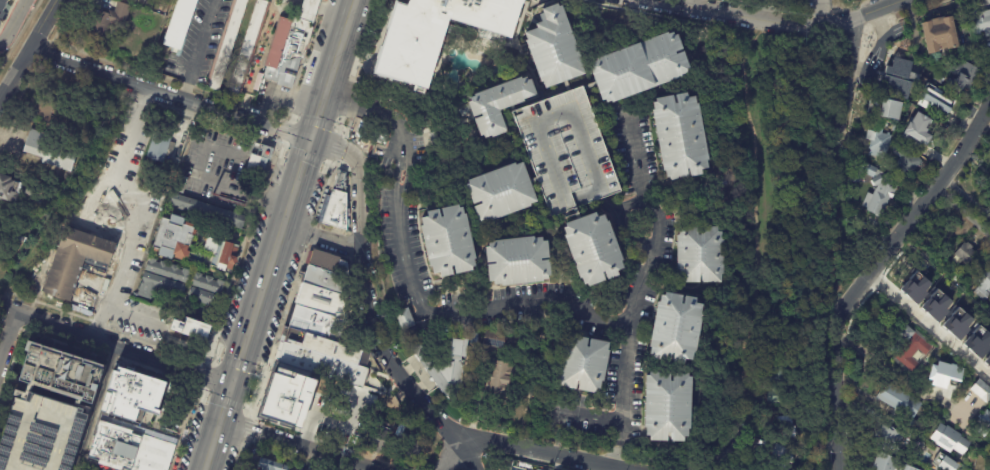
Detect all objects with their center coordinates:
building: (9, 0)
building: (2, 11)
road: (818, 11)
road: (8, 14)
building: (491, 15)
road: (11, 18)
building: (105, 18)
building: (179, 23)
building: (981, 23)
road: (779, 25)
road: (19, 33)
building: (941, 36)
building: (410, 41)
building: (225, 43)
building: (289, 45)
building: (984, 45)
building: (552, 46)
building: (246, 47)
road: (29, 48)
road: (198, 49)
building: (636, 65)
building: (966, 75)
building: (943, 76)
building: (899, 79)
road: (847, 81)
road: (170, 94)
building: (936, 101)
building: (494, 105)
building: (38, 107)
building: (886, 107)
road: (391, 117)
building: (930, 129)
building: (677, 134)
building: (911, 139)
building: (882, 141)
traffic signals: (312, 142)
building: (159, 146)
building: (52, 149)
building: (556, 149)
parking garage: (556, 149)
building: (909, 162)
building: (256, 166)
building: (864, 171)
building: (339, 179)
building: (183, 185)
building: (8, 187)
parking lot: (119, 187)
building: (59, 188)
road: (233, 188)
road: (750, 190)
building: (498, 191)
park: (757, 194)
road: (967, 194)
building: (881, 196)
building: (49, 198)
road: (101, 207)
building: (206, 209)
building: (336, 209)
road: (962, 211)
road: (135, 212)
road: (620, 221)
road: (324, 233)
road: (282, 235)
railway: (291, 235)
building: (446, 239)
building: (199, 243)
building: (590, 247)
building: (699, 253)
building: (968, 253)
road: (405, 260)
building: (73, 261)
building: (516, 261)
road: (646, 276)
road: (865, 277)
building: (163, 278)
road: (111, 287)
building: (985, 287)
building: (206, 289)
building: (923, 289)
building: (402, 300)
road: (541, 301)
building: (935, 304)
building: (401, 319)
building: (320, 322)
building: (957, 323)
road: (928, 324)
building: (675, 327)
building: (191, 328)
road: (9, 338)
building: (496, 339)
building: (946, 339)
building: (977, 341)
road: (117, 347)
building: (913, 348)
building: (985, 350)
building: (940, 358)
building: (579, 364)
road: (392, 368)
building: (950, 368)
road: (886, 369)
building: (60, 372)
building: (444, 373)
building: (501, 378)
building: (373, 384)
traffic signals: (235, 388)
building: (981, 390)
building: (775, 391)
building: (902, 401)
building: (665, 406)
road: (95, 408)
building: (274, 410)
road: (593, 416)
building: (787, 420)
building: (985, 423)
building: (128, 424)
road: (743, 426)
building: (39, 434)
parking garage: (39, 434)
building: (891, 437)
building: (949, 438)
road: (299, 446)
building: (406, 446)
road: (449, 454)
road: (464, 454)
road: (616, 457)
building: (943, 458)
building: (887, 463)
building: (946, 464)
building: (269, 465)
road: (81, 468)
building: (319, 468)

